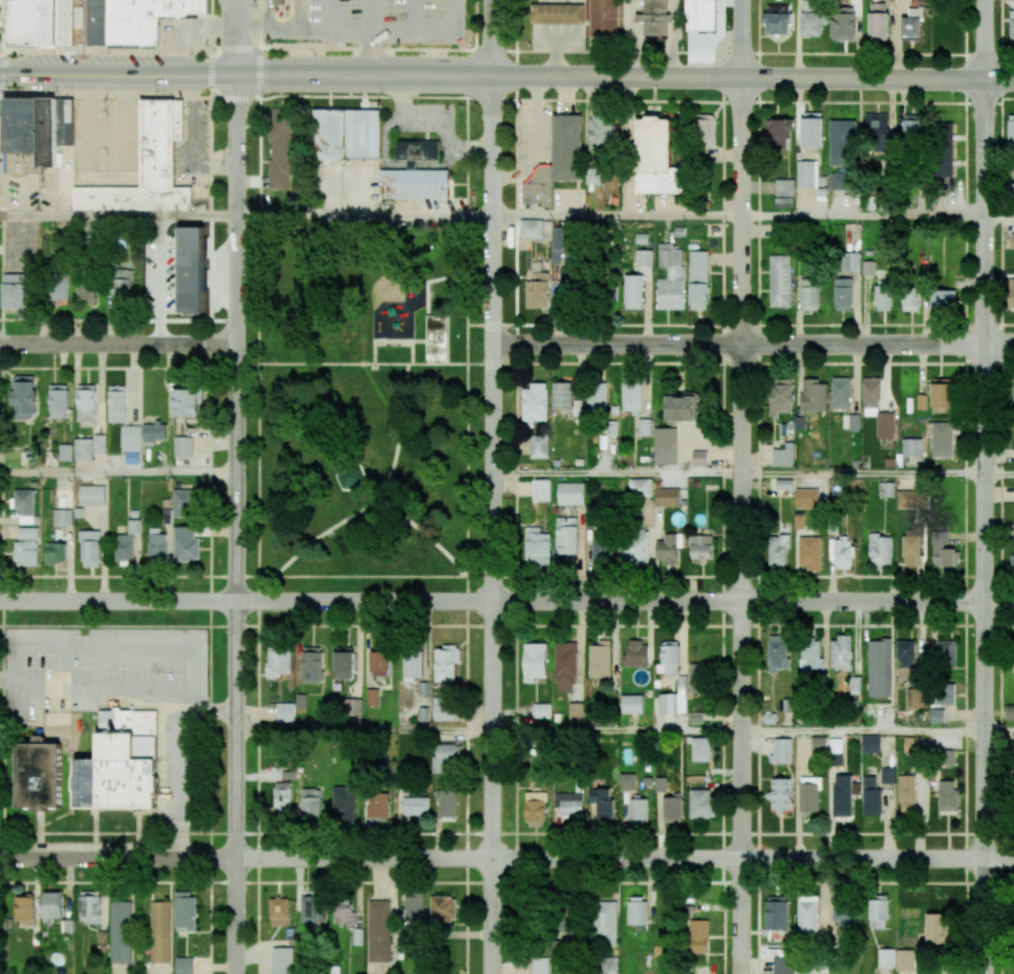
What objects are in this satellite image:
building: (277, 2)
building: (558, 13)
road: (328, 15)
road: (412, 15)
building: (700, 15)
road: (455, 16)
building: (605, 17)
building: (654, 17)
building: (136, 19)
building: (777, 19)
building: (811, 20)
building: (41, 22)
building: (878, 22)
building: (912, 24)
building: (1011, 24)
road: (346, 30)
road: (238, 37)
road: (372, 37)
road: (494, 38)
road: (743, 39)
road: (985, 39)
road: (506, 50)
road: (4, 71)
road: (210, 72)
road: (260, 73)
road: (118, 74)
road: (325, 74)
road: (713, 78)
road: (1007, 98)
road: (500, 99)
building: (19, 125)
building: (876, 125)
building: (911, 127)
building: (812, 129)
building: (704, 130)
building: (1011, 131)
building: (600, 132)
building: (781, 132)
building: (363, 134)
road: (193, 142)
building: (842, 142)
road: (539, 143)
building: (567, 147)
road: (630, 147)
building: (280, 148)
building: (943, 149)
building: (418, 150)
building: (655, 158)
building: (146, 167)
building: (806, 174)
building: (593, 176)
road: (108, 179)
building: (841, 181)
building: (414, 184)
building: (539, 188)
building: (784, 193)
building: (1012, 193)
road: (118, 216)
road: (365, 216)
road: (617, 217)
road: (863, 217)
road: (999, 217)
road: (261, 218)
road: (468, 219)
building: (531, 228)
building: (1012, 240)
building: (559, 243)
building: (643, 258)
building: (850, 261)
building: (868, 267)
building: (192, 269)
building: (670, 277)
road: (480, 278)
road: (162, 280)
building: (698, 280)
road: (431, 281)
building: (780, 281)
building: (122, 285)
building: (58, 289)
building: (86, 289)
building: (15, 290)
building: (538, 291)
building: (633, 291)
building: (1011, 293)
building: (809, 294)
building: (843, 294)
building: (883, 294)
building: (910, 299)
building: (943, 299)
road: (247, 320)
building: (436, 322)
road: (479, 324)
road: (388, 341)
building: (436, 344)
road: (118, 345)
road: (753, 345)
road: (412, 352)
road: (363, 363)
road: (480, 364)
road: (248, 367)
building: (840, 392)
building: (942, 394)
building: (814, 395)
building: (24, 396)
building: (562, 396)
building: (780, 396)
building: (597, 397)
building: (632, 397)
road: (258, 398)
road: (466, 398)
building: (59, 400)
building: (921, 401)
building: (186, 402)
building: (1013, 402)
building: (86, 403)
building: (116, 404)
building: (534, 404)
park: (364, 406)
building: (681, 406)
building: (577, 408)
building: (877, 408)
building: (851, 422)
building: (646, 425)
building: (613, 426)
building: (154, 431)
road: (398, 432)
building: (130, 438)
building: (942, 439)
building: (101, 442)
building: (666, 444)
building: (183, 446)
building: (538, 446)
building: (912, 447)
building: (84, 448)
building: (66, 451)
building: (784, 455)
building: (701, 456)
road: (118, 472)
road: (617, 472)
road: (863, 474)
road: (999, 474)
building: (349, 476)
building: (784, 484)
building: (642, 486)
road: (1000, 486)
building: (542, 488)
road: (368, 489)
building: (888, 489)
building: (572, 492)
building: (92, 495)
building: (669, 496)
building: (806, 498)
road: (372, 499)
building: (909, 499)
building: (185, 503)
building: (24, 505)
building: (594, 513)
building: (63, 517)
building: (799, 521)
road: (237, 524)
road: (493, 524)
road: (742, 526)
road: (985, 527)
building: (27, 533)
building: (567, 535)
building: (127, 542)
building: (186, 544)
building: (157, 545)
building: (538, 547)
building: (701, 547)
building: (90, 548)
building: (602, 548)
building: (668, 548)
building: (635, 549)
building: (880, 549)
building: (911, 551)
building: (778, 552)
building: (810, 552)
building: (25, 553)
building: (56, 553)
building: (841, 553)
building: (941, 553)
building: (1012, 562)
road: (247, 576)
road: (361, 576)
road: (479, 576)
road: (258, 589)
road: (465, 589)
road: (507, 602)
building: (778, 652)
building: (636, 653)
building: (841, 653)
building: (946, 653)
building: (810, 654)
building: (1013, 654)
building: (669, 658)
building: (600, 659)
building: (906, 659)
building: (381, 660)
building: (534, 661)
building: (414, 662)
building: (278, 663)
building: (344, 663)
building: (312, 664)
building: (565, 666)
building: (880, 667)
building: (695, 677)
building: (855, 684)
road: (124, 688)
building: (945, 694)
building: (372, 697)
building: (915, 699)
building: (633, 703)
building: (668, 703)
building: (352, 706)
building: (443, 709)
building: (576, 709)
building: (541, 710)
building: (285, 712)
building: (1009, 712)
building: (937, 716)
road: (365, 729)
road: (617, 730)
road: (863, 731)
road: (999, 731)
building: (818, 743)
building: (870, 743)
building: (913, 745)
building: (701, 749)
building: (782, 750)
building: (445, 757)
building: (947, 757)
building: (120, 763)
building: (887, 775)
building: (39, 776)
building: (1011, 777)
building: (626, 781)
road: (180, 783)
building: (660, 784)
building: (809, 794)
building: (906, 794)
building: (781, 795)
building: (842, 795)
building: (947, 796)
building: (871, 797)
building: (283, 798)
building: (601, 802)
building: (311, 803)
building: (343, 803)
building: (446, 803)
building: (701, 803)
building: (378, 804)
building: (568, 804)
building: (415, 806)
building: (672, 807)
building: (535, 809)
building: (638, 811)
road: (118, 859)
road: (625, 859)
building: (53, 905)
building: (89, 907)
building: (312, 908)
building: (24, 909)
building: (414, 909)
building: (443, 909)
building: (637, 911)
building: (841, 911)
building: (185, 912)
building: (279, 912)
building: (344, 912)
building: (776, 913)
building: (808, 913)
building: (878, 914)
building: (605, 925)
building: (937, 928)
building: (378, 930)
building: (121, 932)
building: (160, 932)
building: (698, 936)
building: (102, 940)
building: (885, 958)
building: (282, 960)
building: (905, 960)
building: (184, 965)
building: (540, 965)
building: (783, 965)

